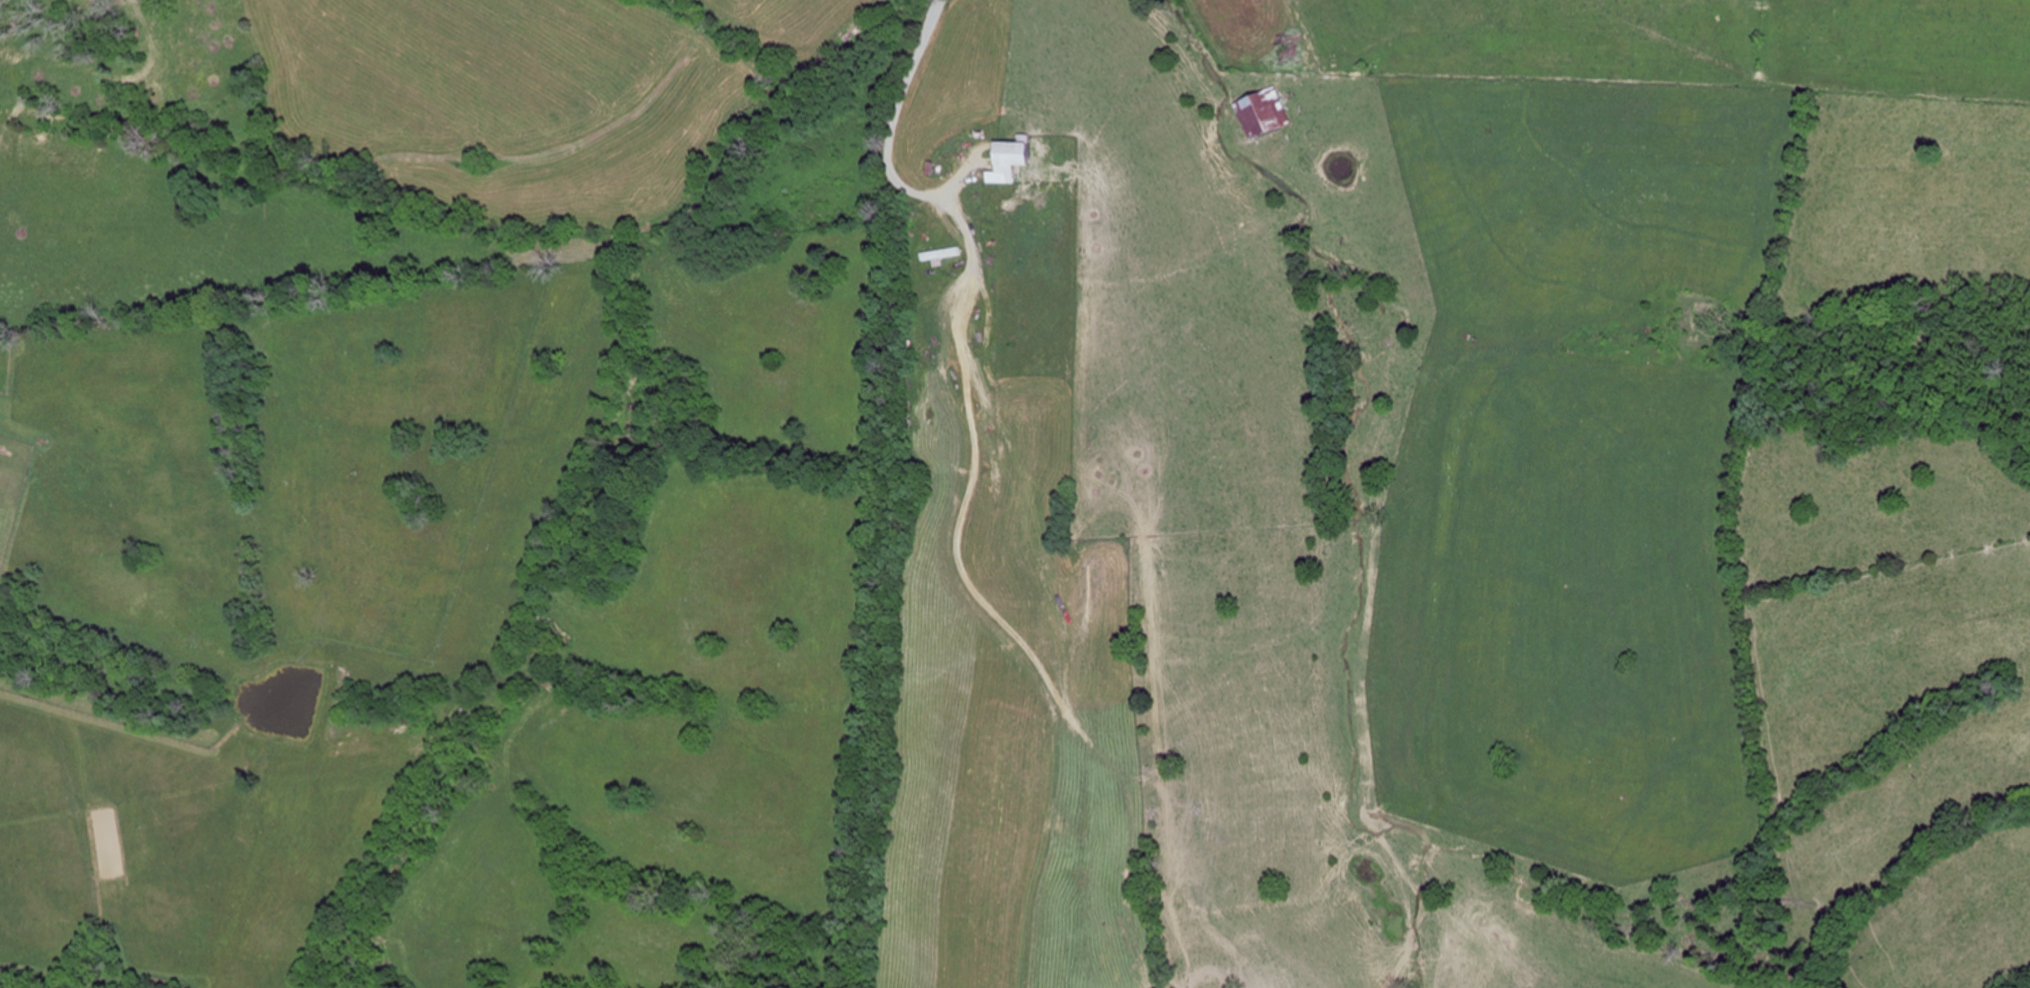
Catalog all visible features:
building: (1261, 114)
road: (896, 119)
building: (1010, 160)

